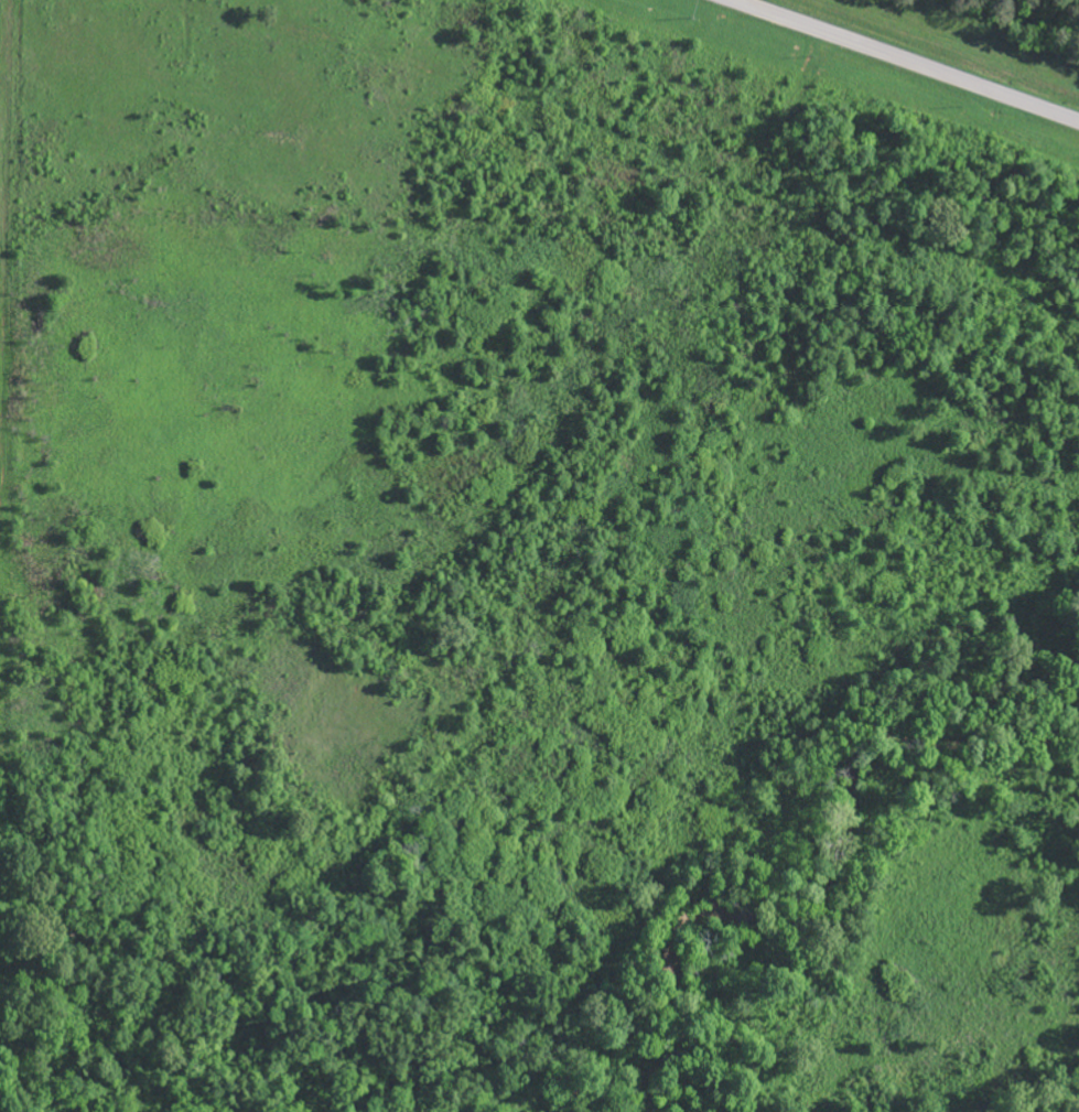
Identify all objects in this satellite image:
road: (741, 1)
road: (905, 61)
road: (4, 229)

